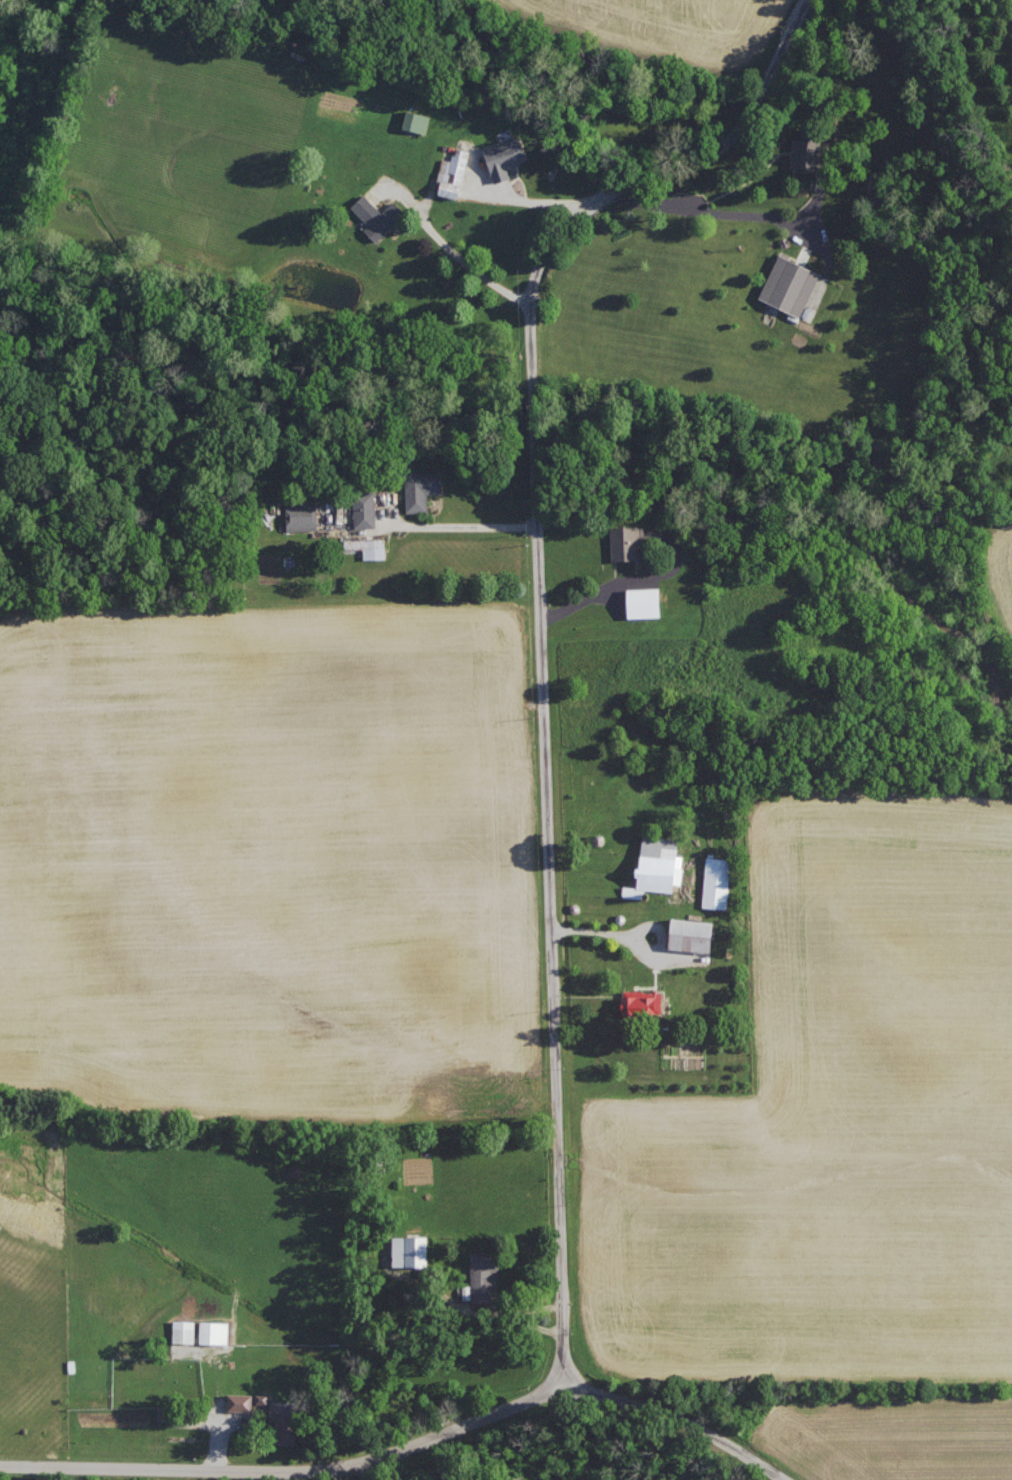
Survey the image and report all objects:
building: (416, 121)
building: (807, 149)
building: (505, 157)
building: (453, 174)
road: (704, 210)
building: (378, 216)
road: (453, 252)
building: (790, 285)
building: (421, 489)
building: (365, 509)
building: (302, 515)
road: (461, 527)
building: (626, 542)
building: (369, 547)
building: (644, 602)
road: (540, 631)
building: (659, 864)
building: (717, 883)
road: (621, 935)
building: (692, 935)
building: (643, 1002)
building: (410, 1250)
building: (484, 1274)
building: (184, 1330)
building: (215, 1332)
building: (262, 1397)
building: (240, 1401)
road: (680, 1417)
building: (285, 1422)
road: (288, 1470)
road: (359, 1472)

